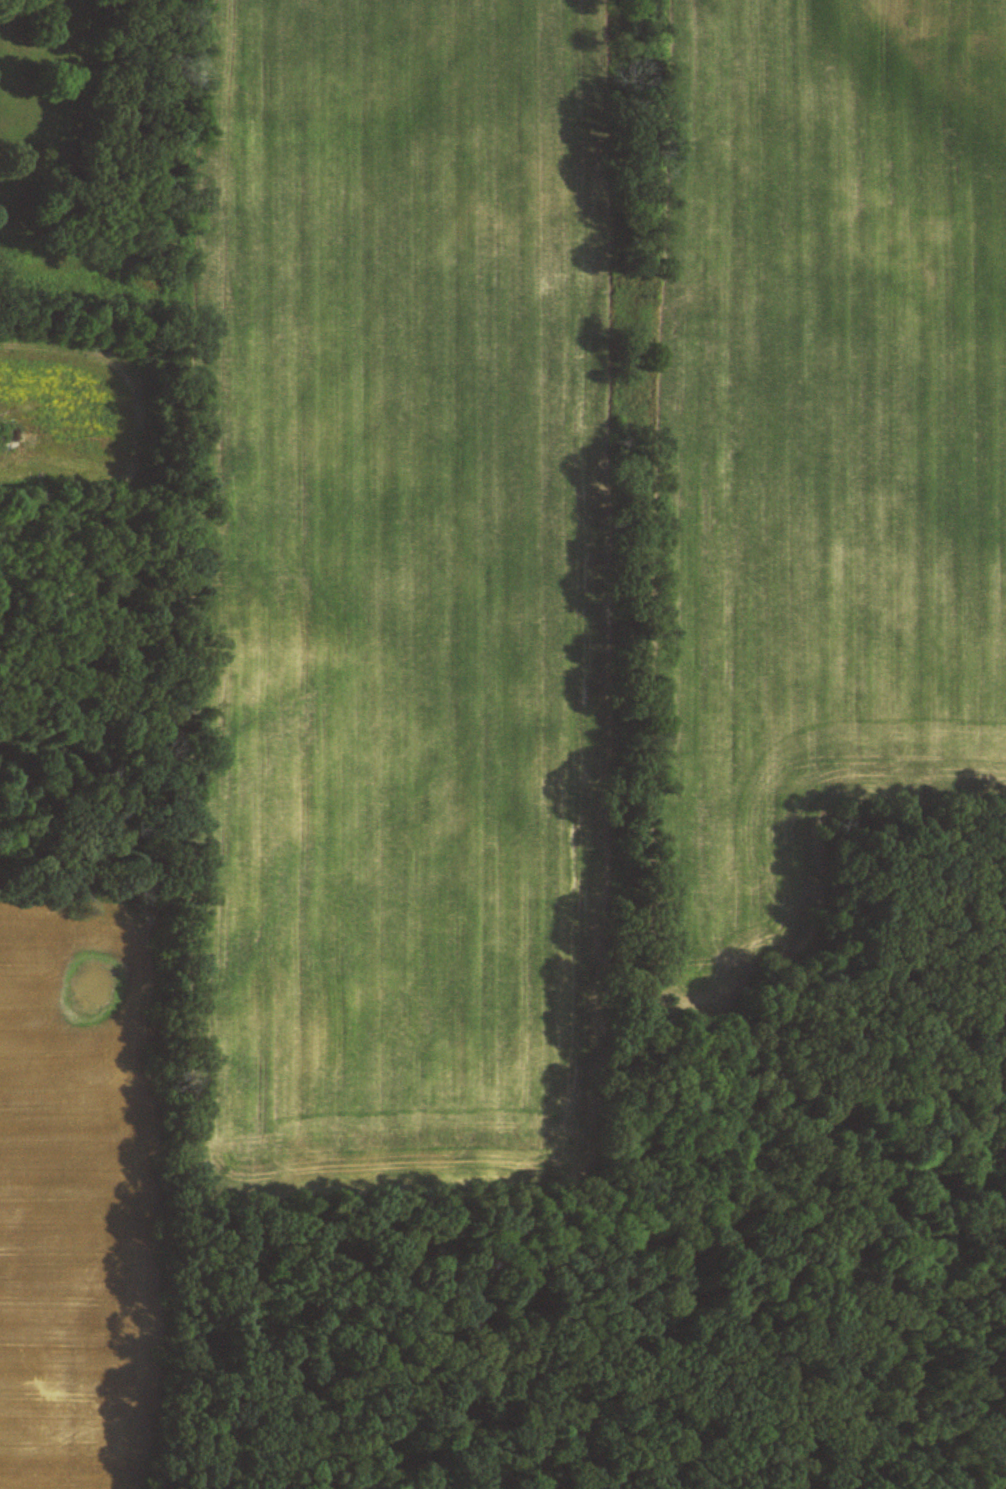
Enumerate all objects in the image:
crop: (819, 449)
crop: (393, 592)

